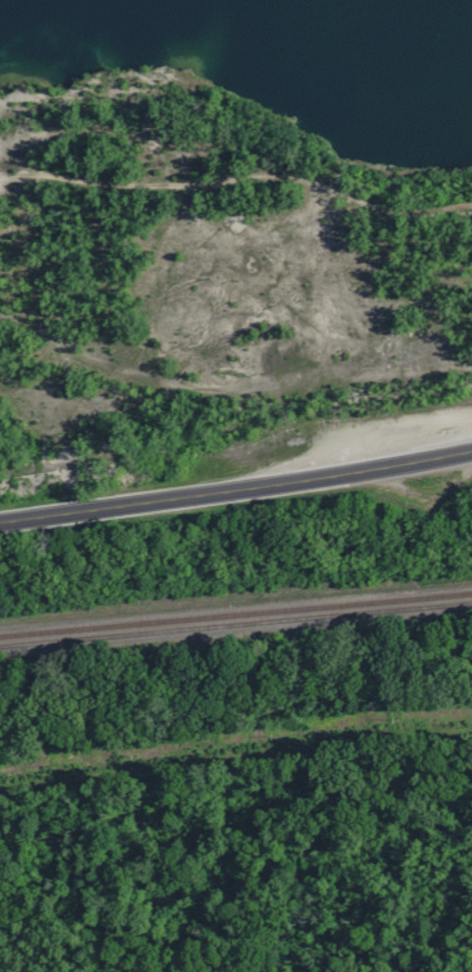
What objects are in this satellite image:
road: (236, 494)
railway: (235, 605)
railway: (235, 616)
road: (235, 743)

